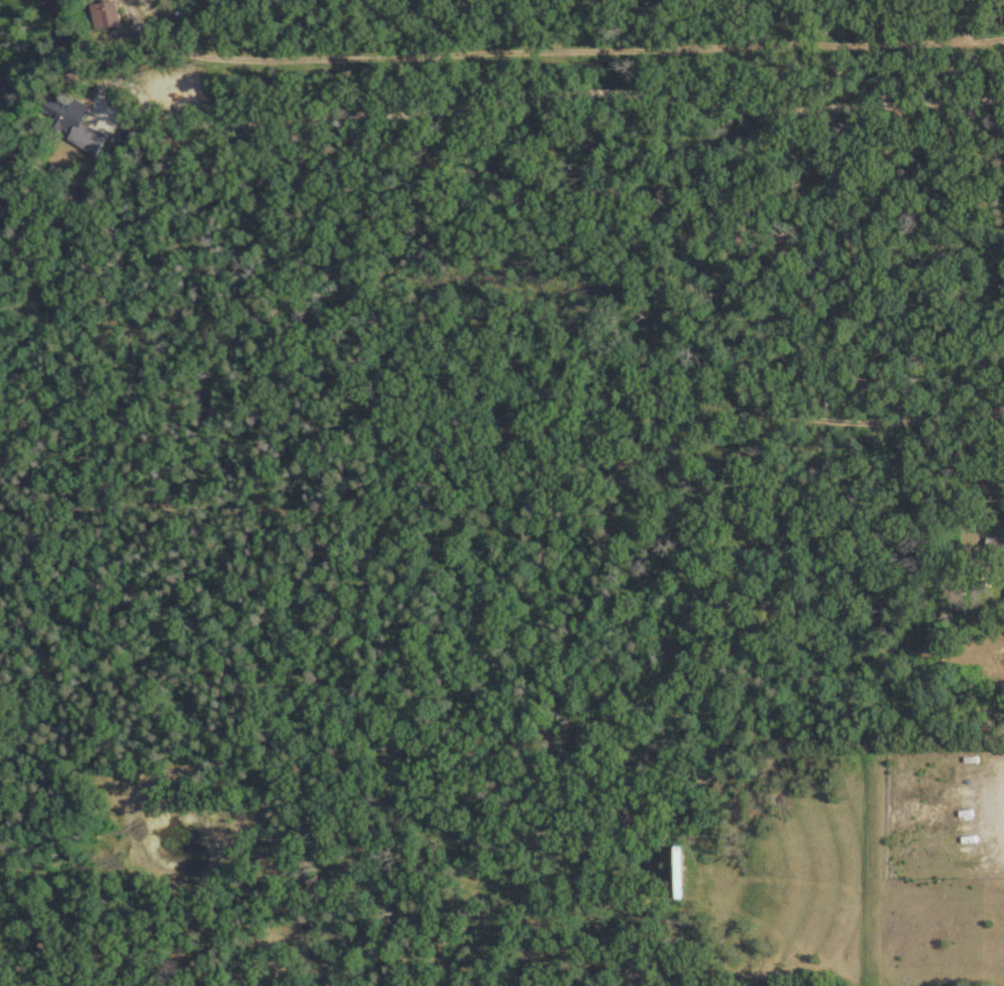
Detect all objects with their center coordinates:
road: (624, 41)
river: (42, 48)
road: (624, 194)
road: (624, 341)

